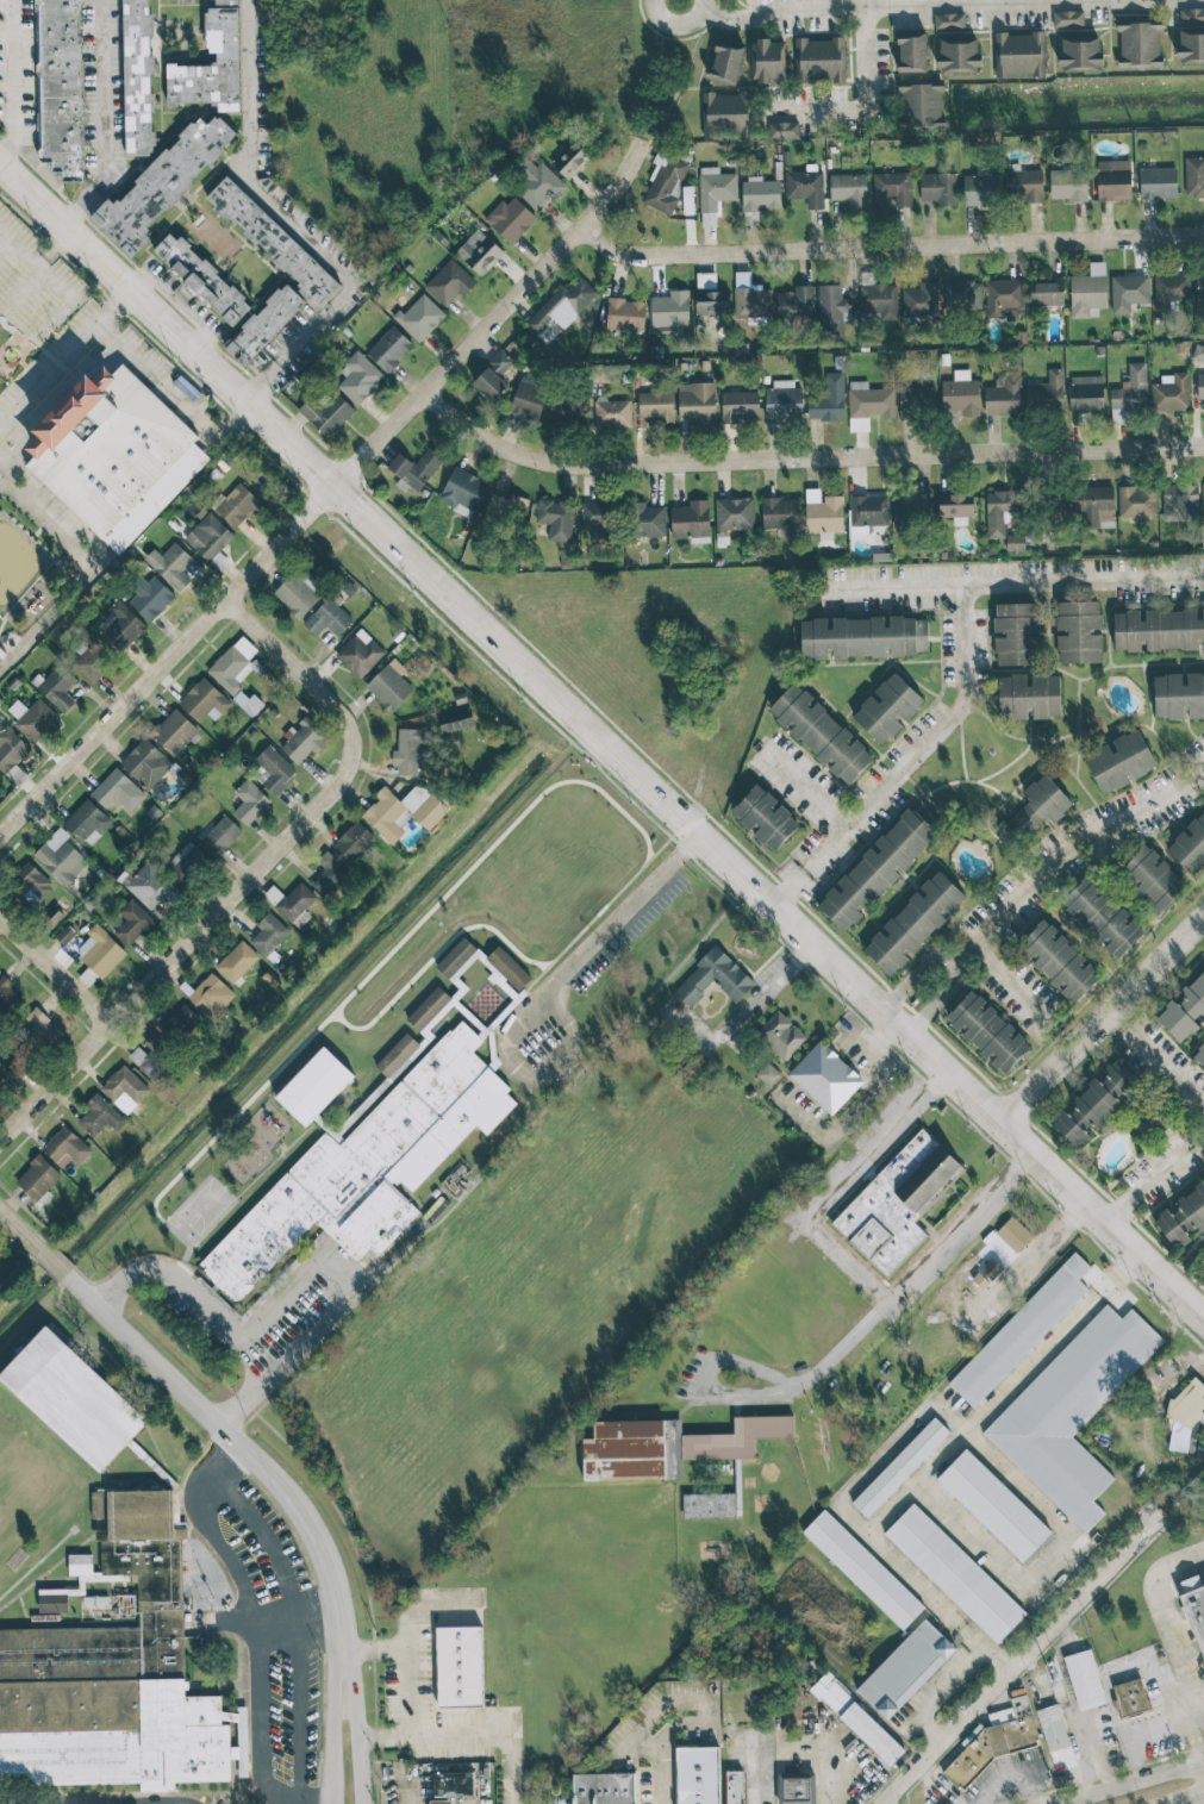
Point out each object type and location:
road: (6, 1)
building: (225, 2)
road: (861, 5)
road: (720, 18)
building: (1066, 18)
building: (948, 20)
road: (682, 27)
building: (1190, 35)
building: (1139, 44)
building: (1079, 50)
building: (911, 51)
building: (1017, 54)
building: (957, 55)
building: (819, 58)
building: (767, 60)
building: (725, 63)
building: (211, 67)
building: (137, 77)
building: (60, 86)
road: (17, 87)
road: (245, 87)
road: (863, 99)
building: (918, 104)
road: (111, 120)
building: (782, 130)
building: (570, 160)
building: (1193, 177)
building: (1113, 180)
building: (665, 181)
building: (536, 182)
building: (162, 183)
building: (1158, 183)
building: (1024, 185)
building: (1068, 185)
building: (806, 187)
building: (891, 187)
building: (938, 188)
building: (849, 189)
building: (981, 189)
building: (713, 193)
building: (759, 196)
building: (511, 219)
building: (273, 242)
road: (891, 248)
road: (4, 249)
road: (52, 252)
building: (479, 252)
road: (333, 268)
building: (201, 279)
building: (448, 283)
building: (1199, 287)
building: (1169, 289)
building: (1088, 292)
building: (1128, 292)
road: (23, 294)
building: (961, 294)
building: (1046, 294)
building: (750, 299)
building: (1003, 299)
building: (879, 300)
building: (712, 301)
building: (919, 301)
road: (67, 302)
building: (796, 304)
building: (560, 310)
building: (670, 310)
building: (830, 310)
building: (625, 314)
building: (419, 318)
building: (264, 324)
building: (389, 349)
fountain: (11, 352)
building: (1198, 352)
road: (65, 360)
building: (358, 377)
building: (492, 377)
road: (257, 379)
road: (157, 381)
building: (1200, 386)
building: (1046, 393)
building: (1085, 393)
building: (1129, 393)
building: (1171, 393)
building: (960, 394)
building: (1003, 398)
building: (528, 399)
building: (828, 400)
building: (782, 401)
building: (916, 401)
building: (695, 402)
building: (868, 405)
building: (656, 406)
building: (740, 407)
building: (567, 410)
building: (325, 412)
building: (106, 443)
road: (804, 456)
building: (413, 469)
road: (323, 488)
road: (1050, 501)
building: (1136, 501)
building: (1179, 501)
building: (1203, 503)
building: (236, 505)
building: (956, 505)
building: (1093, 506)
building: (912, 507)
building: (506, 508)
building: (778, 512)
building: (867, 512)
building: (998, 512)
building: (734, 514)
building: (824, 516)
building: (597, 518)
building: (556, 519)
building: (647, 520)
building: (691, 522)
building: (207, 536)
road: (126, 538)
building: (1015, 543)
building: (169, 566)
road: (1015, 580)
building: (297, 593)
building: (149, 597)
building: (327, 616)
road: (49, 625)
building: (119, 626)
building: (1159, 630)
building: (1016, 632)
building: (1078, 632)
building: (862, 637)
building: (2, 653)
building: (358, 653)
building: (91, 657)
building: (232, 664)
building: (388, 685)
building: (56, 686)
building: (1178, 695)
building: (1029, 697)
building: (202, 700)
building: (252, 704)
building: (887, 709)
building: (31, 718)
building: (455, 720)
road: (950, 723)
building: (173, 731)
building: (821, 734)
road: (603, 736)
building: (302, 741)
building: (10, 749)
building: (406, 751)
building: (1119, 761)
building: (144, 763)
building: (273, 770)
building: (118, 792)
road: (807, 792)
building: (249, 801)
building: (401, 811)
building: (1034, 811)
building: (765, 818)
building: (86, 822)
building: (218, 835)
building: (353, 841)
road: (1075, 843)
building: (1190, 845)
road: (826, 850)
building: (58, 856)
building: (185, 860)
building: (878, 868)
road: (249, 870)
building: (329, 878)
building: (1153, 879)
building: (32, 882)
road: (791, 885)
building: (149, 886)
building: (291, 900)
road: (626, 907)
building: (1102, 917)
building: (131, 922)
building: (913, 923)
building: (268, 934)
building: (64, 935)
building: (98, 953)
building: (1058, 960)
building: (236, 961)
building: (454, 961)
road: (55, 969)
building: (507, 973)
building: (713, 978)
road: (1011, 981)
road: (934, 985)
road: (768, 990)
building: (7, 995)
building: (211, 997)
building: (1184, 1010)
building: (426, 1013)
road: (1123, 1016)
building: (177, 1018)
road: (1104, 1020)
building: (40, 1026)
building: (987, 1032)
building: (780, 1035)
road: (512, 1037)
building: (1199, 1055)
building: (394, 1059)
road: (1166, 1060)
building: (767, 1074)
building: (825, 1078)
building: (124, 1088)
building: (311, 1092)
road: (867, 1101)
building: (1092, 1104)
building: (99, 1116)
road: (1202, 1131)
building: (65, 1148)
building: (366, 1169)
road: (1154, 1176)
building: (37, 1178)
building: (1203, 1181)
road: (842, 1187)
building: (897, 1201)
building: (1183, 1217)
building: (1013, 1234)
building: (1202, 1256)
building: (991, 1268)
road: (1118, 1272)
road: (884, 1309)
road: (223, 1323)
building: (1021, 1331)
road: (311, 1341)
road: (201, 1404)
building: (70, 1405)
building: (1072, 1411)
building: (1186, 1416)
building: (669, 1446)
road: (935, 1460)
building: (899, 1467)
building: (709, 1505)
building: (993, 1505)
road: (204, 1529)
road: (264, 1540)
building: (1181, 1544)
building: (862, 1569)
building: (954, 1573)
building: (81, 1583)
road: (1085, 1594)
building: (1196, 1613)
road: (297, 1617)
parking lot: (263, 1623)
road: (1171, 1637)
road: (984, 1646)
road: (418, 1663)
building: (458, 1667)
building: (905, 1669)
road: (1113, 1669)
building: (113, 1672)
building: (1084, 1679)
road: (938, 1692)
building: (1130, 1696)
road: (294, 1710)
road: (1199, 1711)
road: (697, 1716)
road: (258, 1717)
road: (332, 1719)
road: (358, 1719)
road: (1161, 1725)
building: (1053, 1728)
building: (871, 1733)
road: (944, 1733)
road: (467, 1739)
building: (994, 1739)
road: (811, 1743)
road: (832, 1746)
road: (1136, 1759)
road: (398, 1775)
building: (707, 1778)
road: (1129, 1784)
building: (453, 1786)
building: (796, 1787)
building: (603, 1796)
road: (1198, 1802)

